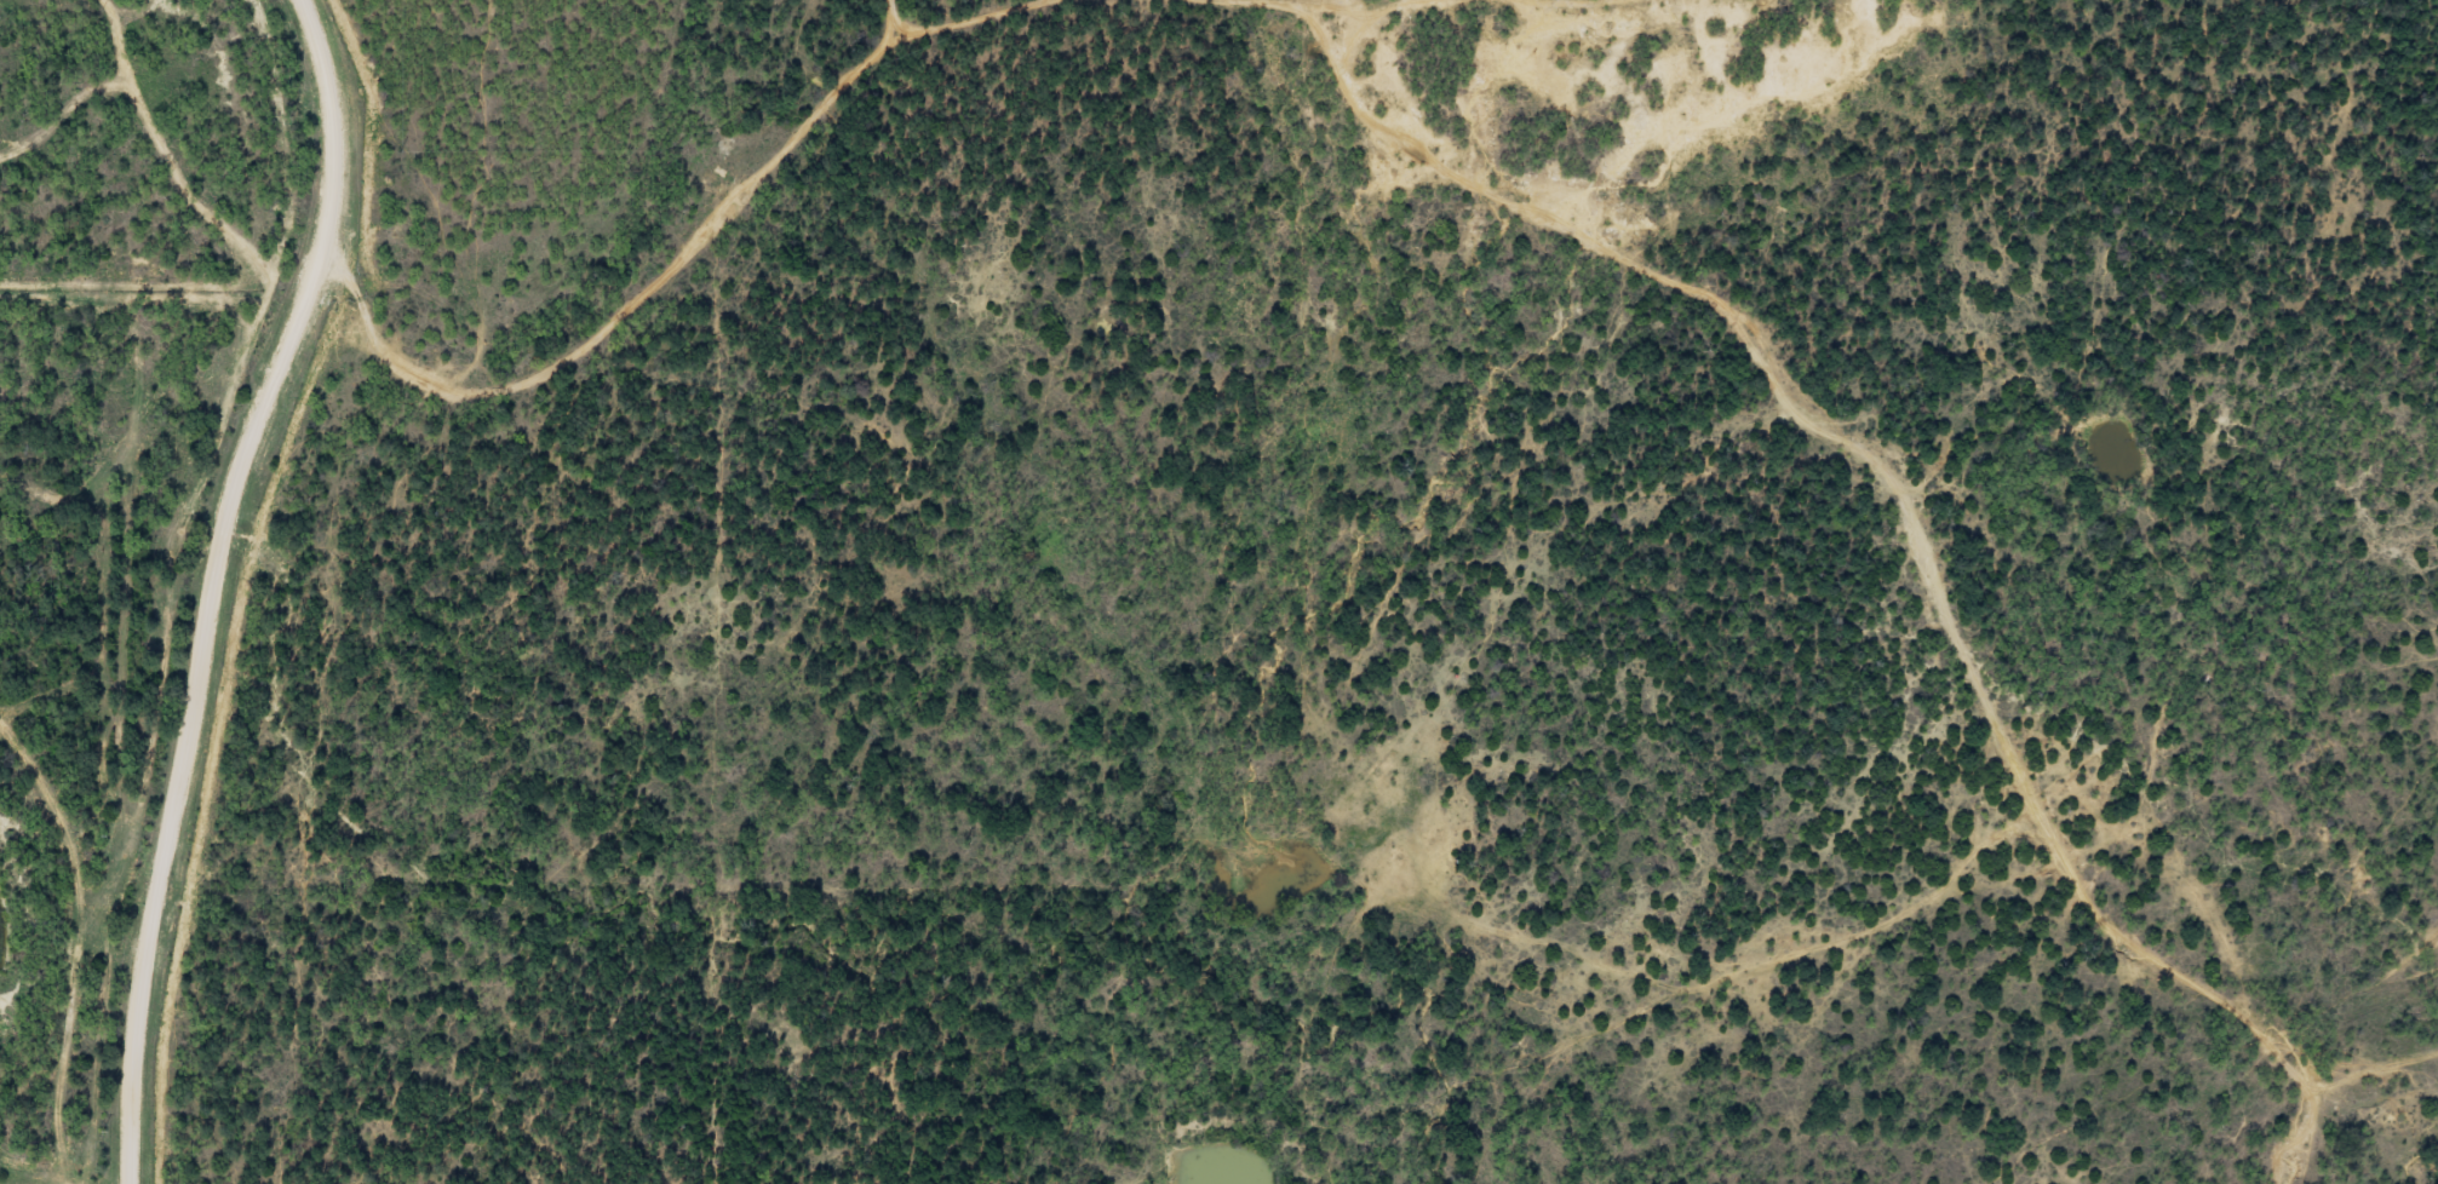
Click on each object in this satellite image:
road: (906, 29)
road: (1371, 39)
road: (728, 281)
park: (446, 479)
road: (1921, 547)
road: (253, 604)
road: (58, 944)
road: (139, 1169)

